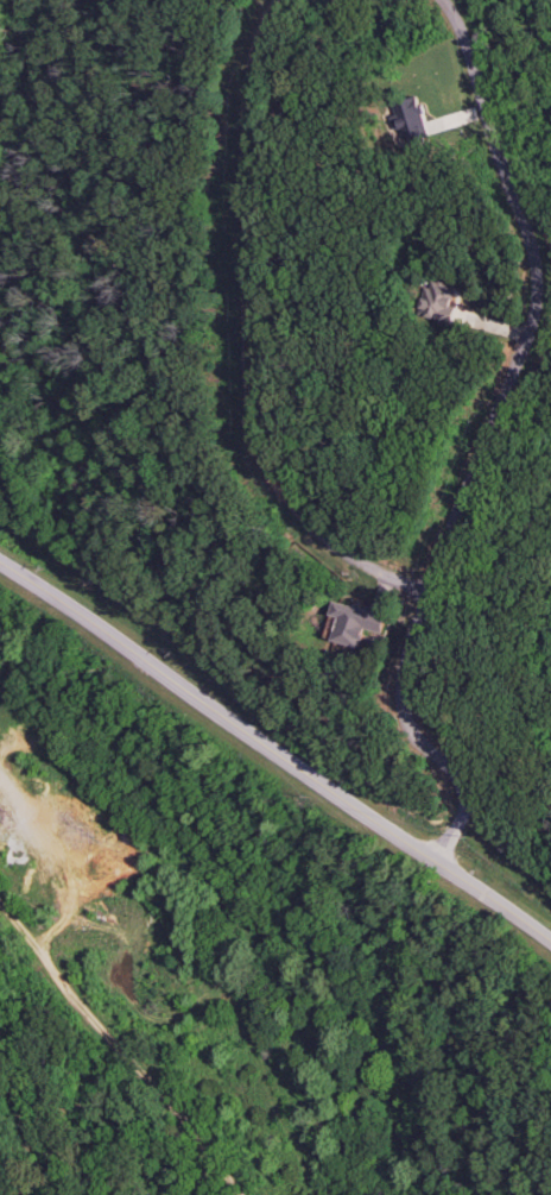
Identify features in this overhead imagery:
building: (407, 118)
road: (539, 298)
building: (437, 301)
road: (243, 335)
building: (354, 622)
road: (419, 738)
road: (275, 750)
road: (119, 1049)

